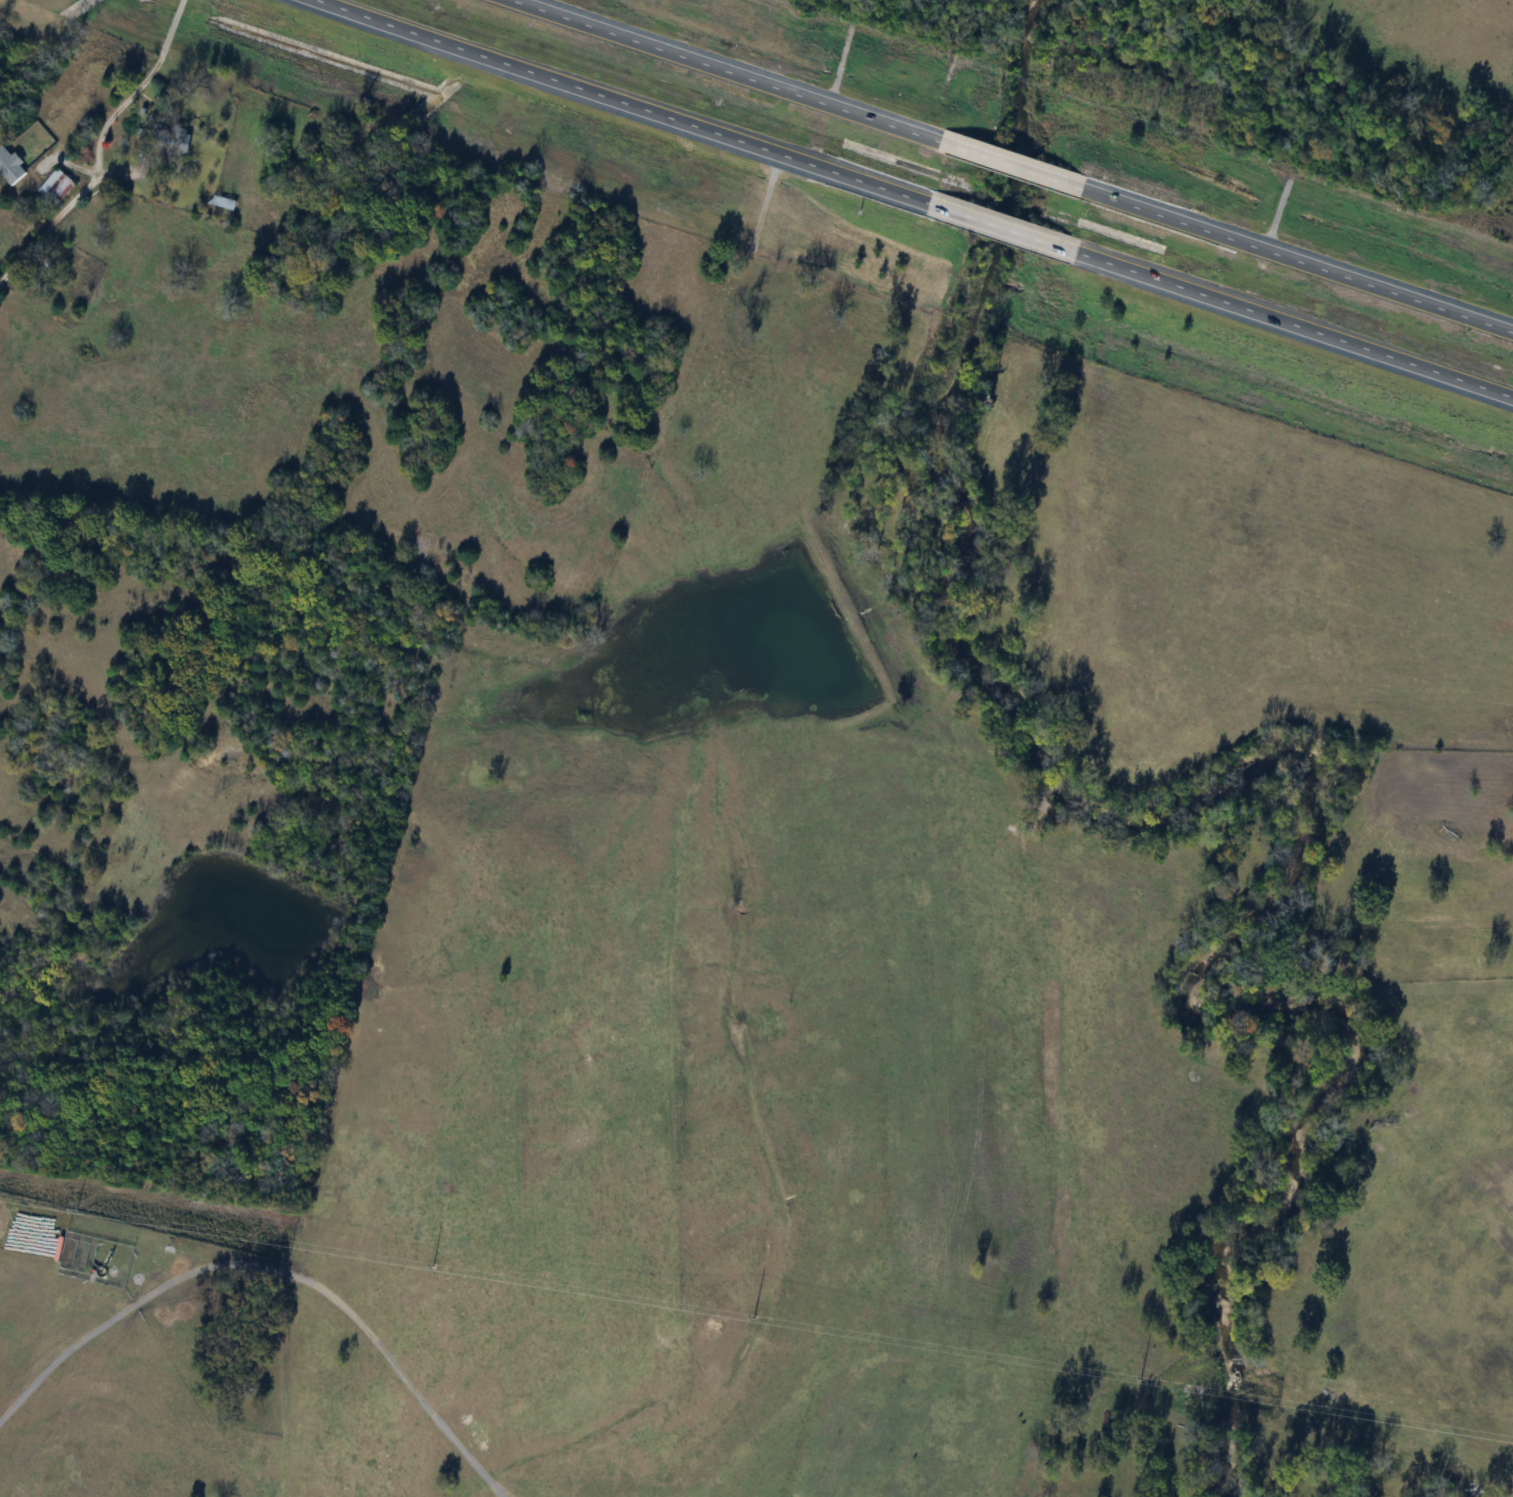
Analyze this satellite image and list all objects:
road: (722, 70)
road: (622, 101)
building: (177, 141)
road: (94, 144)
road: (1009, 165)
building: (53, 186)
building: (221, 202)
road: (1275, 204)
road: (999, 227)
road: (1297, 260)
road: (1293, 327)
power tower: (77, 1208)
power tower: (434, 1265)
power tower: (754, 1316)
power tower: (1141, 1379)

